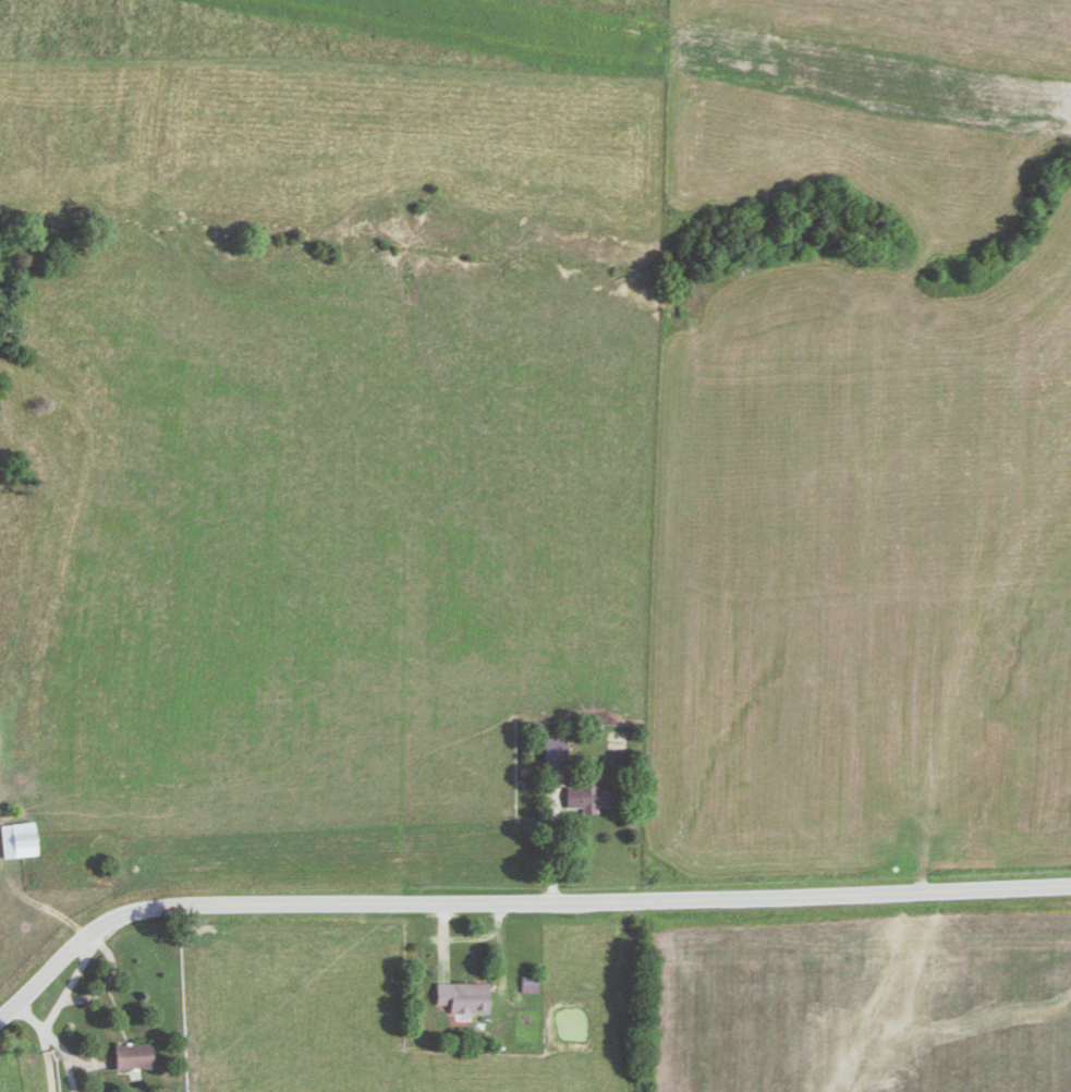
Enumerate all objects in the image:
building: (555, 754)
building: (588, 796)
building: (15, 841)
road: (553, 846)
road: (514, 900)
road: (65, 987)
building: (461, 998)
road: (42, 1043)
building: (131, 1056)

